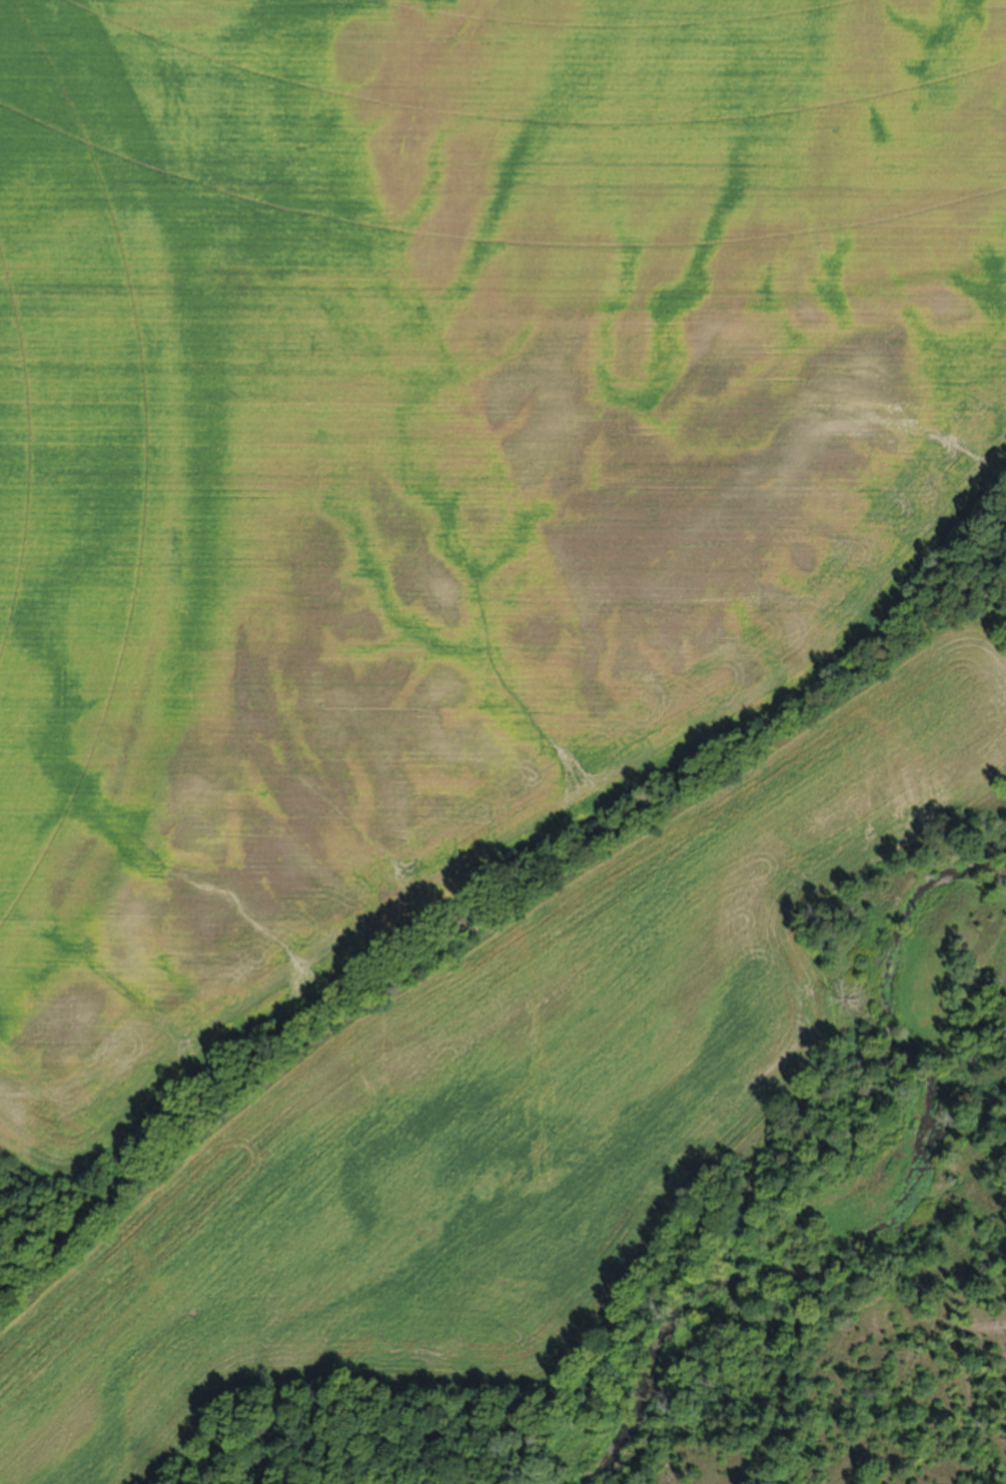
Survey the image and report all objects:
crop: (457, 645)

